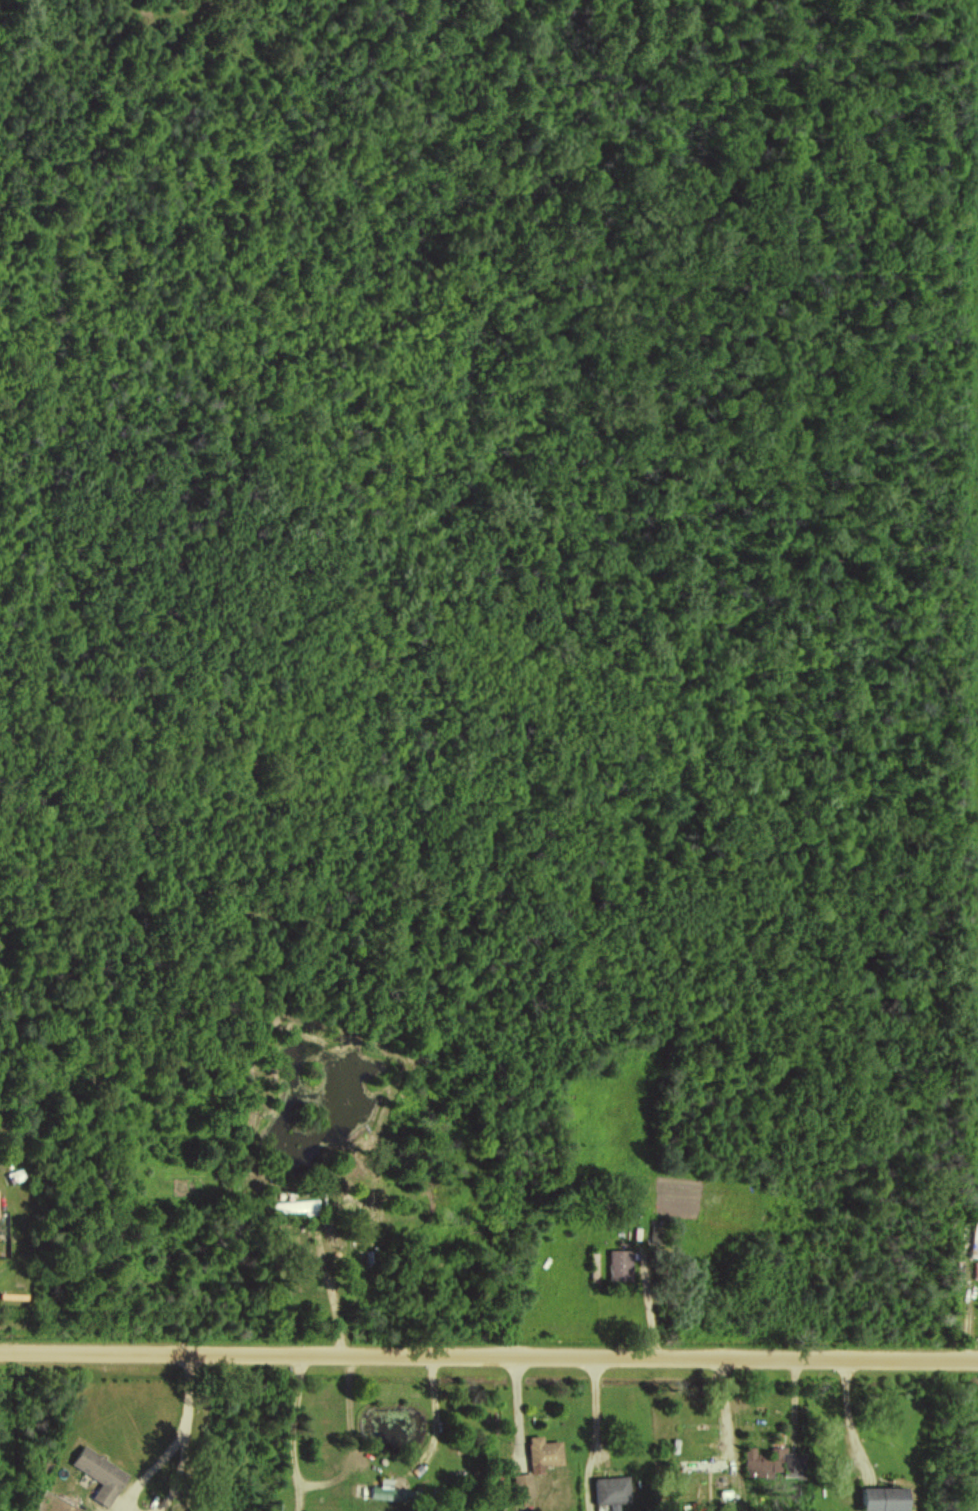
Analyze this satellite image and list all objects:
building: (295, 1207)
building: (973, 1238)
building: (619, 1264)
road: (333, 1288)
road: (649, 1306)
road: (964, 1324)
road: (489, 1358)
road: (190, 1389)
road: (590, 1411)
road: (853, 1415)
road: (437, 1417)
road: (764, 1423)
building: (542, 1453)
building: (774, 1462)
road: (155, 1465)
road: (183, 1470)
building: (100, 1474)
road: (320, 1483)
building: (522, 1484)
building: (611, 1489)
building: (381, 1492)
building: (885, 1498)

